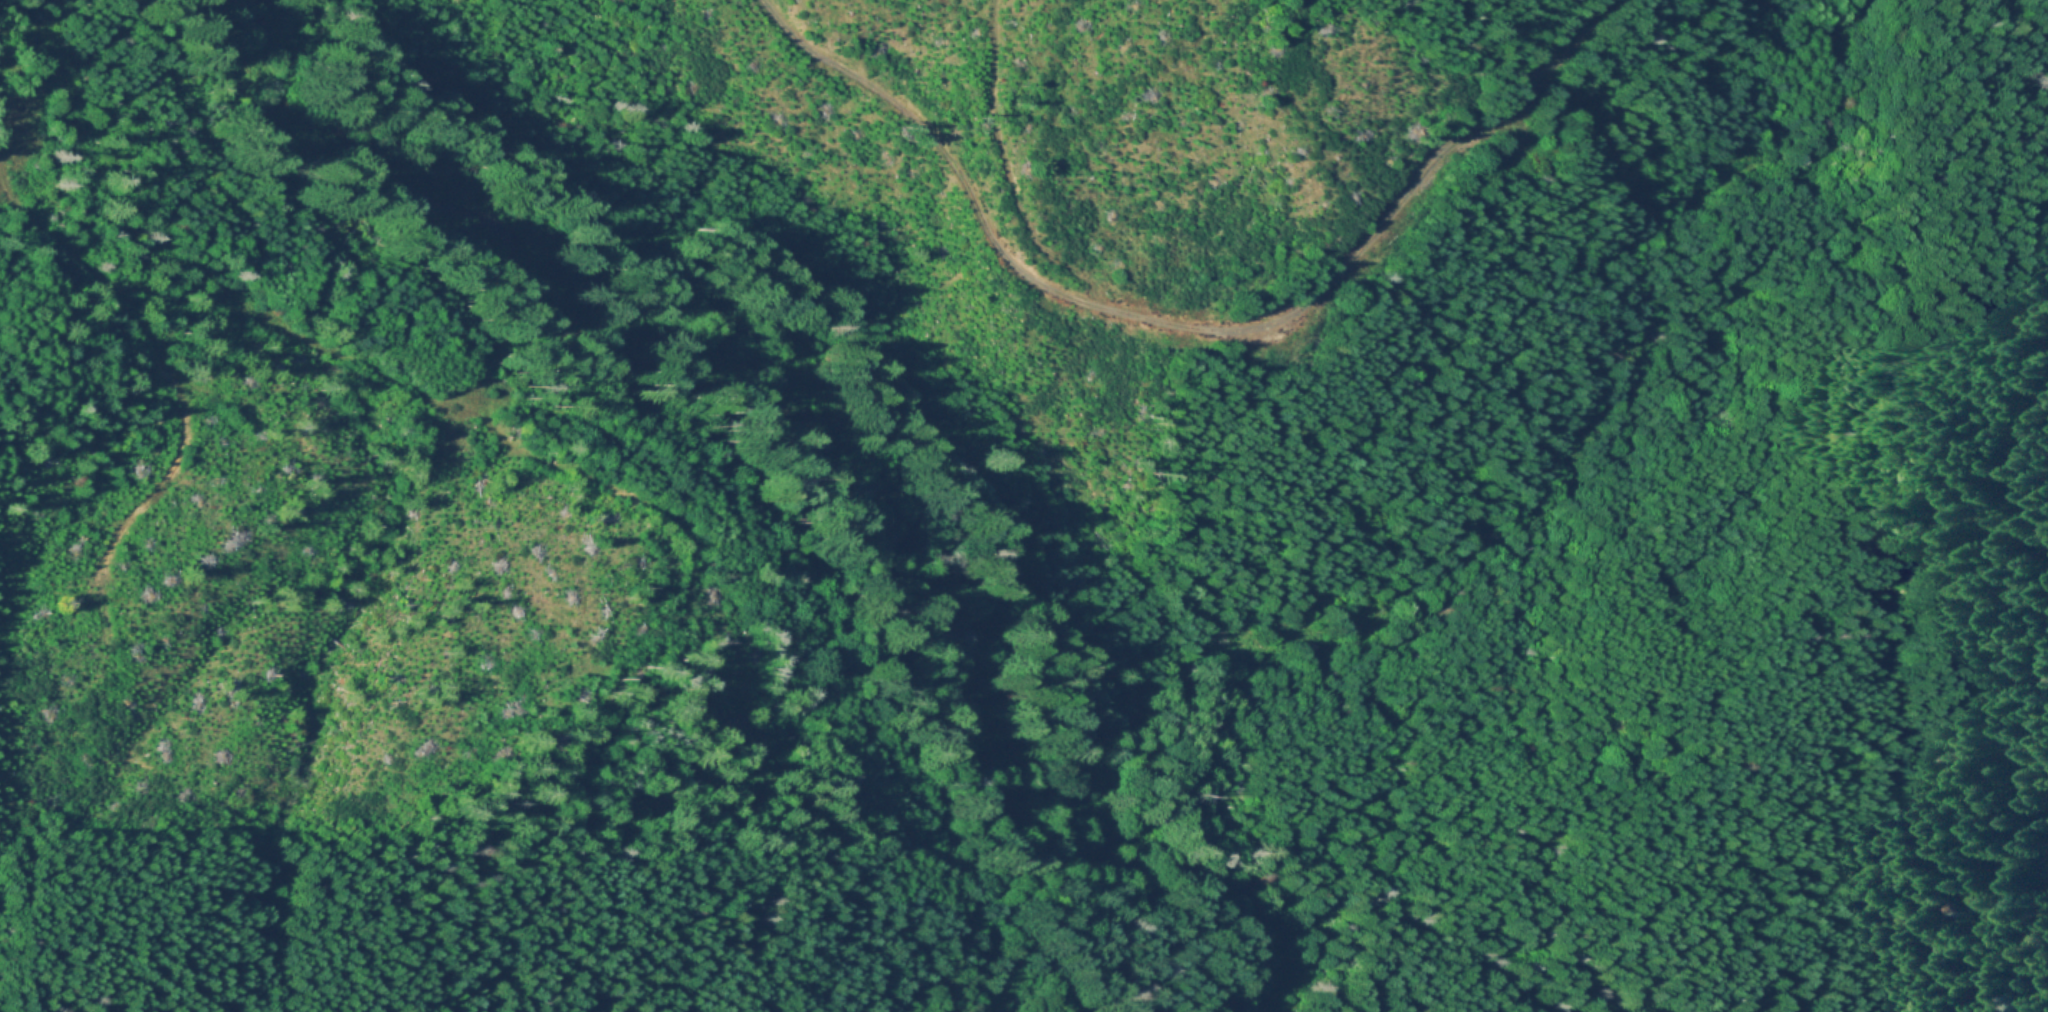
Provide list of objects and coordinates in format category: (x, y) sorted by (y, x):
road: (1005, 168)
road: (1187, 327)
road: (151, 352)
road: (401, 385)
road: (2026, 469)

